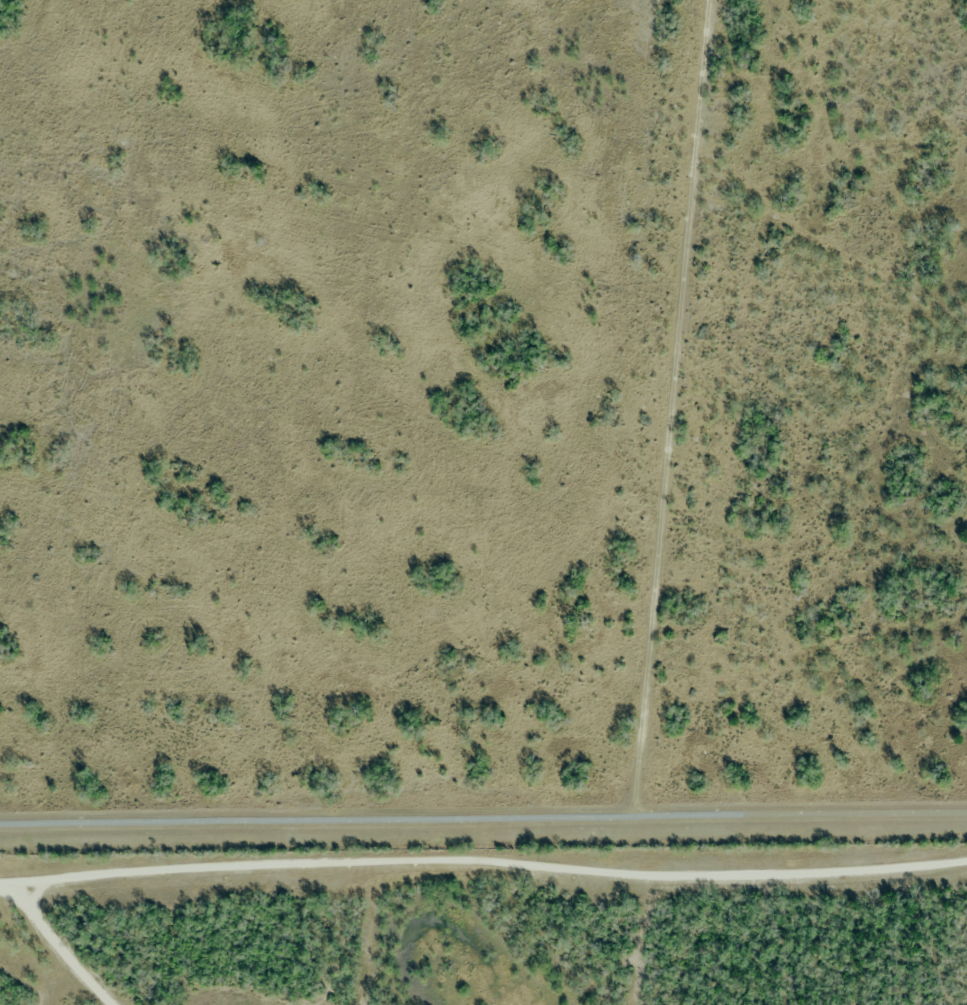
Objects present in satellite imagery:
road: (483, 825)
road: (483, 862)

